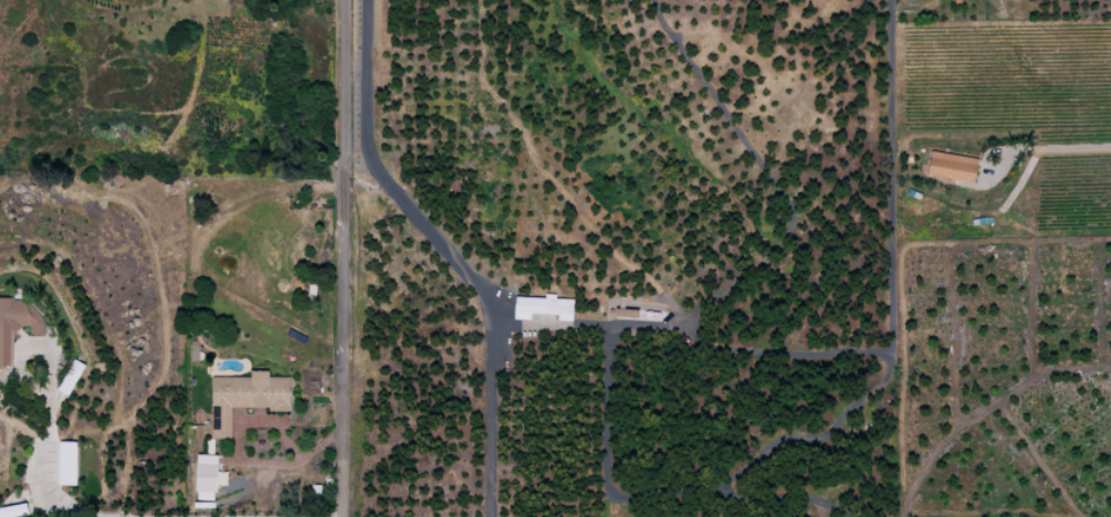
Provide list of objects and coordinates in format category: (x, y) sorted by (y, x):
building: (957, 0)
road: (1042, 148)
building: (952, 166)
road: (794, 205)
road: (447, 251)
road: (344, 258)
building: (544, 306)
building: (17, 323)
road: (889, 366)
building: (71, 377)
building: (245, 397)
road: (609, 402)
building: (67, 462)
road: (49, 473)
building: (206, 476)

